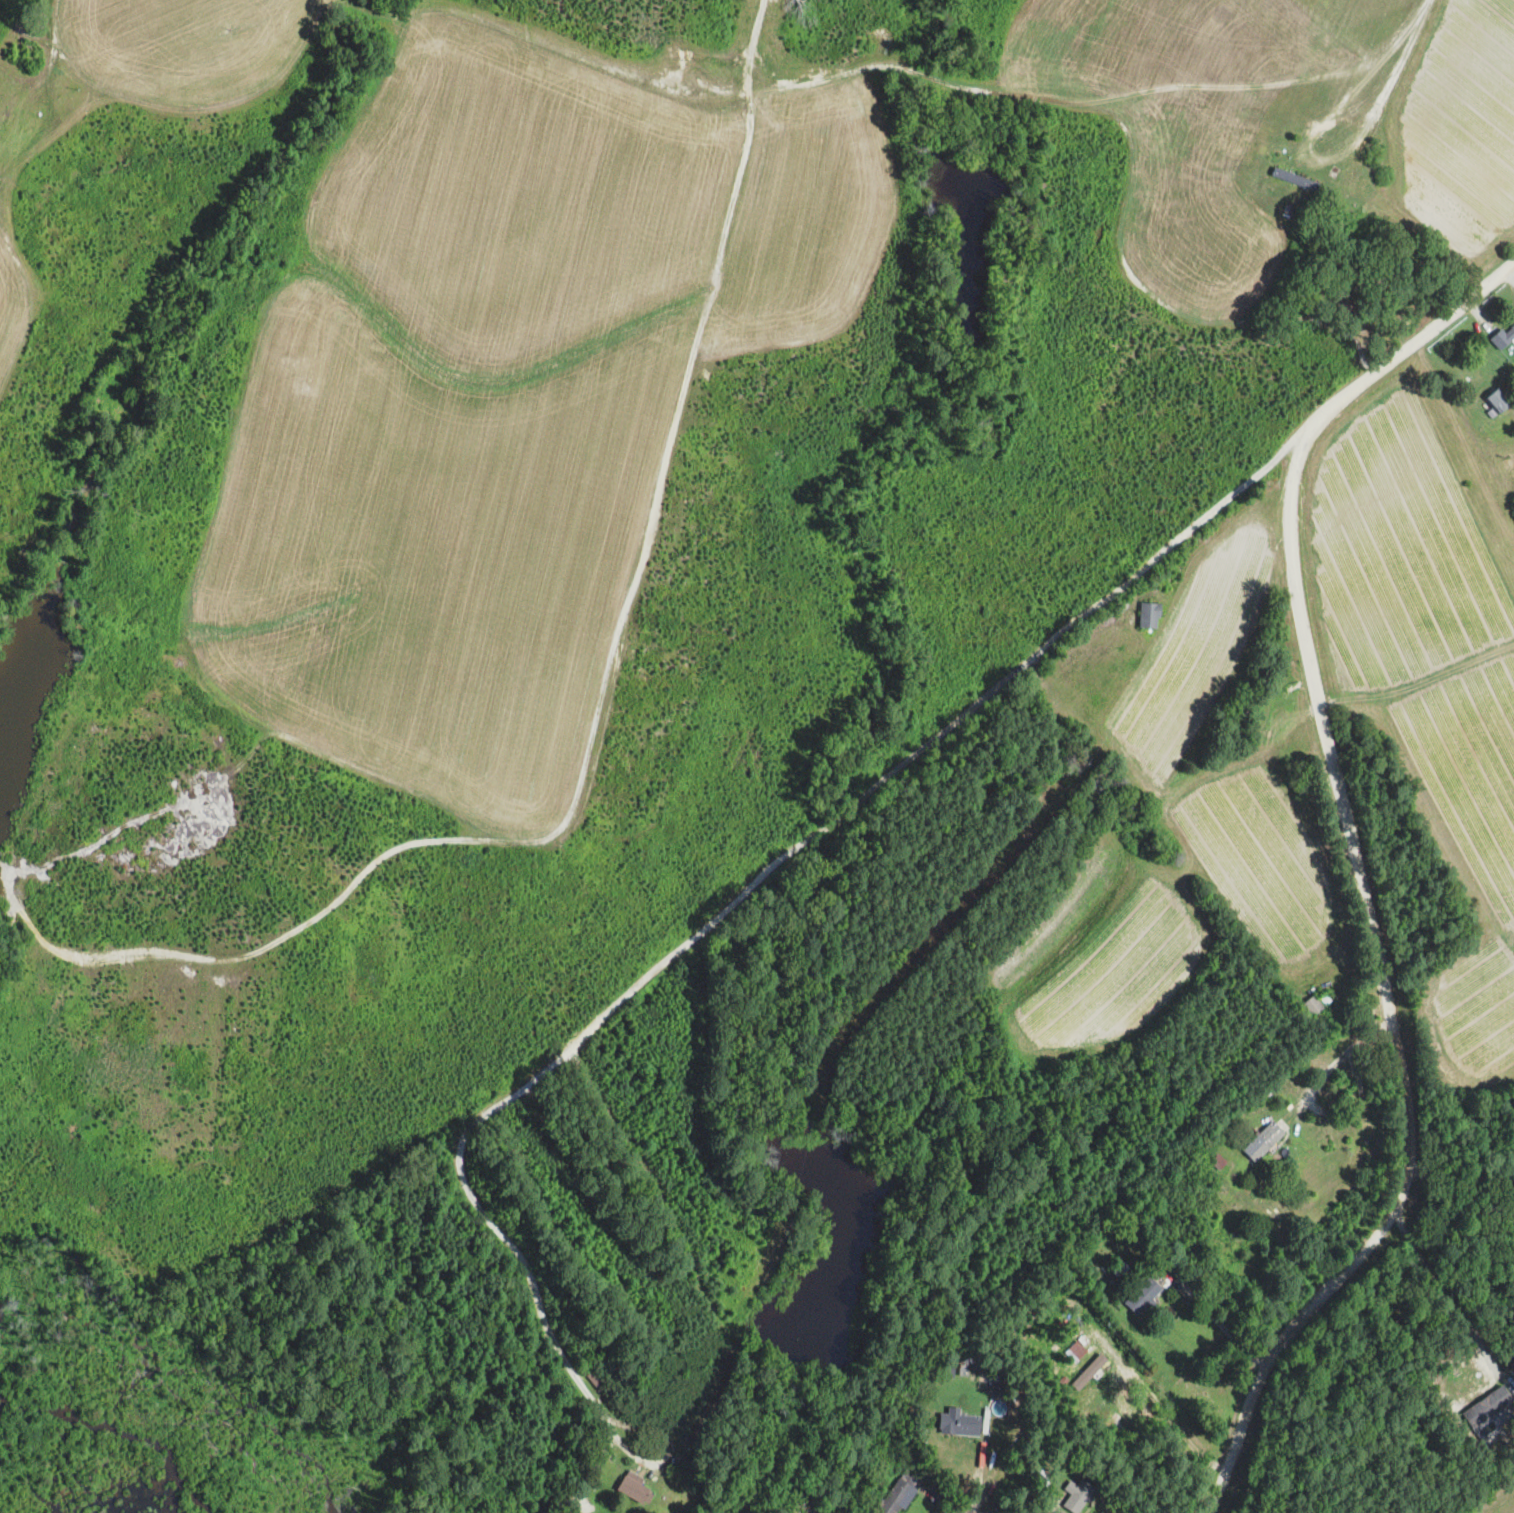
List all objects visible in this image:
road: (49, 35)
crop: (179, 35)
crop: (1179, 42)
road: (1, 45)
road: (524, 53)
road: (1360, 76)
road: (17, 79)
road: (1391, 81)
road: (181, 87)
road: (739, 90)
building: (1, 93)
road: (1026, 94)
road: (1357, 103)
building: (10, 107)
road: (36, 121)
crop: (1456, 137)
building: (1242, 145)
building: (1293, 177)
crop: (520, 197)
building: (1287, 208)
crop: (798, 226)
crop: (1189, 236)
road: (1509, 275)
building: (1345, 310)
road: (1479, 316)
crop: (7, 321)
building: (1502, 338)
building: (1498, 401)
crop: (440, 557)
road: (1185, 595)
building: (1149, 614)
crop: (1195, 657)
crop: (1423, 688)
road: (604, 711)
road: (888, 773)
building: (1040, 785)
crop: (1257, 858)
road: (1355, 867)
road: (1334, 883)
crop: (1060, 915)
crop: (1118, 976)
building: (1315, 1006)
road: (1333, 1063)
building: (1264, 1141)
road: (1355, 1155)
road: (1461, 1192)
building: (1227, 1213)
road: (1292, 1245)
building: (1154, 1252)
building: (1118, 1266)
road: (522, 1267)
building: (1109, 1279)
building: (1142, 1295)
road: (1449, 1302)
road: (1213, 1318)
building: (1076, 1351)
building: (606, 1358)
building: (614, 1366)
building: (1089, 1368)
building: (948, 1369)
building: (598, 1377)
building: (1487, 1404)
road: (1159, 1407)
building: (957, 1423)
building: (1487, 1428)
road: (655, 1429)
road: (619, 1442)
road: (980, 1461)
road: (591, 1470)
building: (633, 1487)
building: (898, 1491)
road: (981, 1494)
building: (1080, 1494)
road: (934, 1499)
crop: (1498, 1499)
road: (972, 1508)

